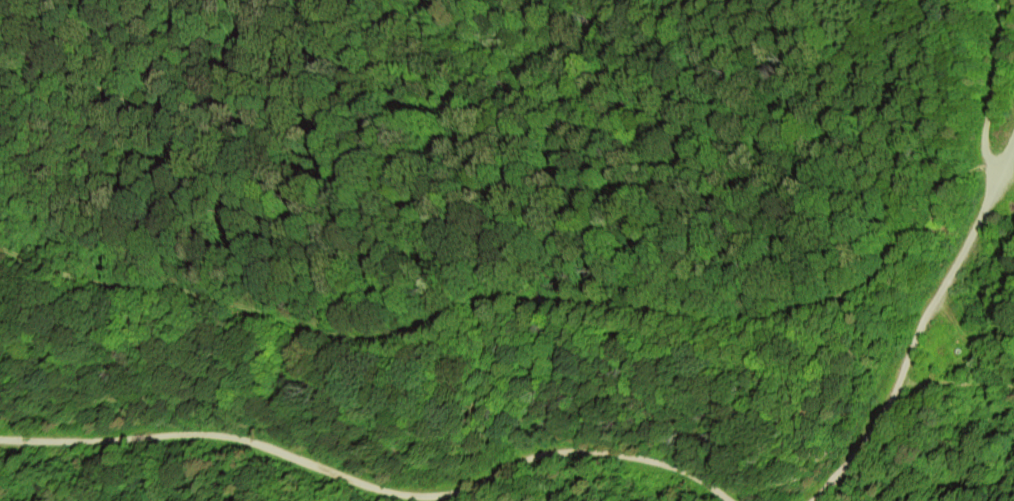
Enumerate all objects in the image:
road: (991, 92)
road: (475, 292)
road: (926, 325)
road: (371, 483)

